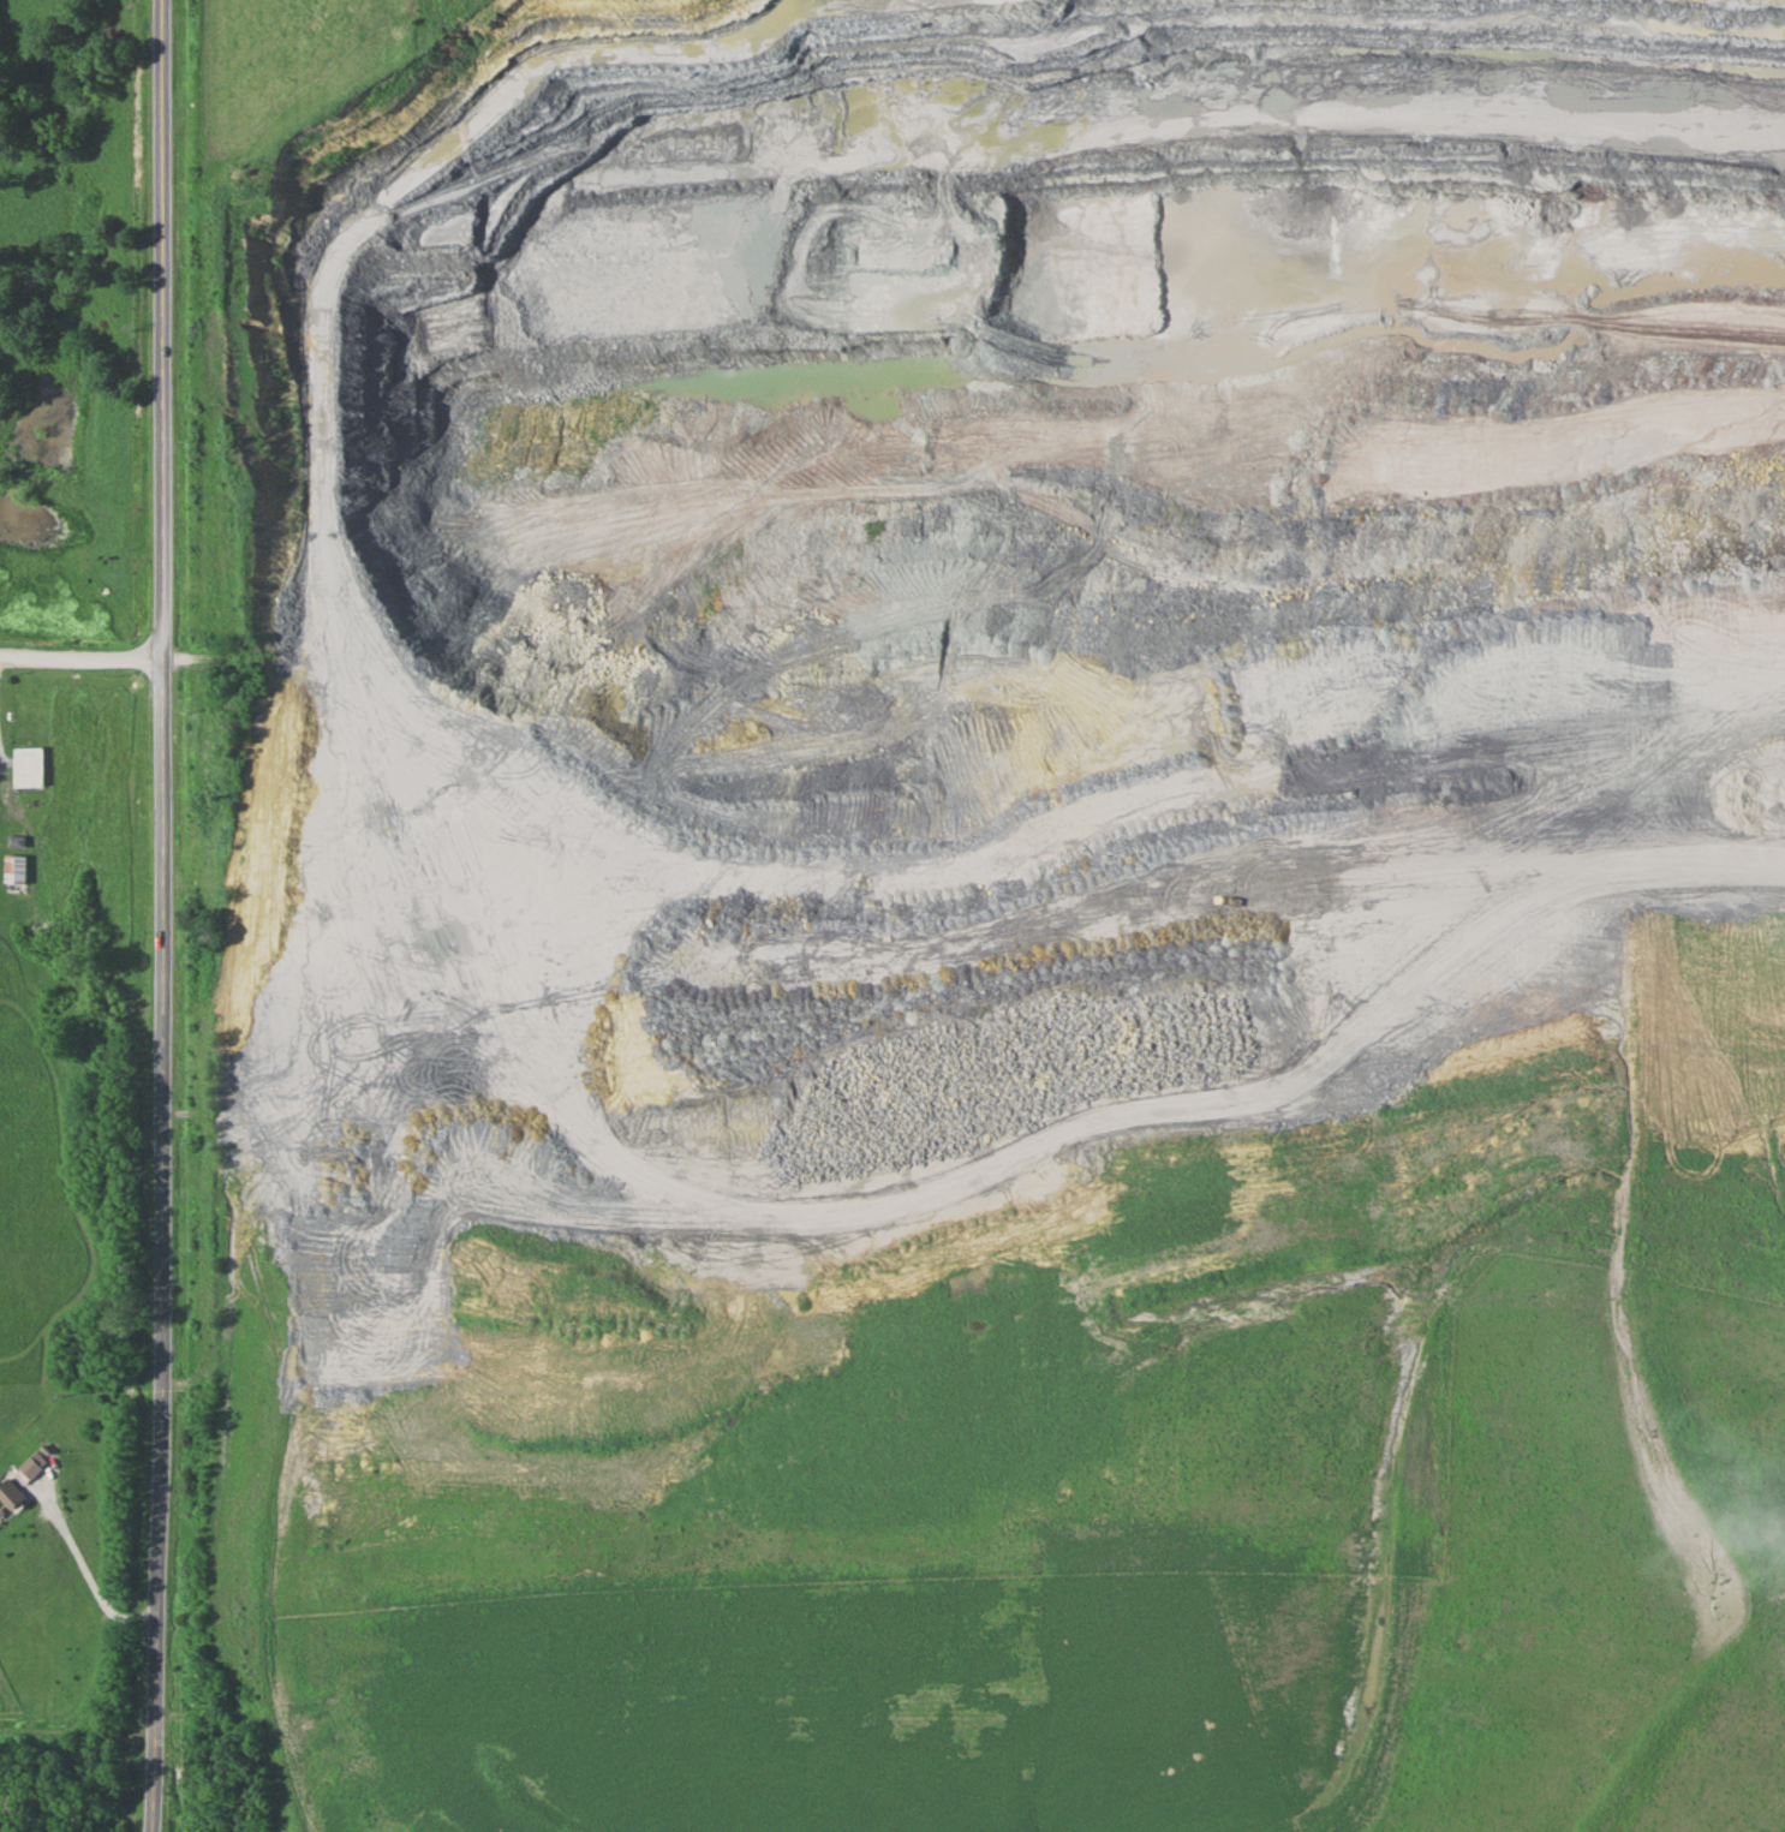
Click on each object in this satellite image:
road: (163, 329)
road: (82, 657)
road: (1, 724)
building: (29, 765)
building: (14, 870)
road: (196, 1111)
road: (162, 1245)
road: (189, 1377)

